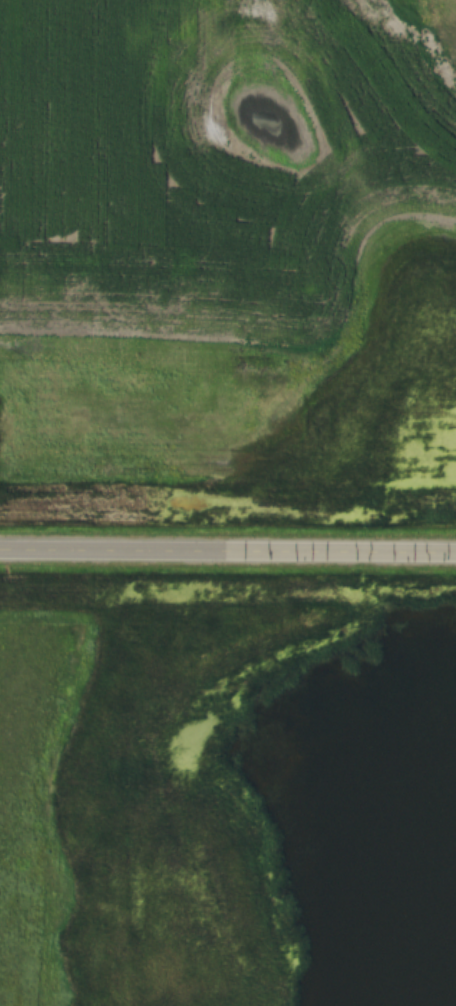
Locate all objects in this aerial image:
road: (227, 557)

